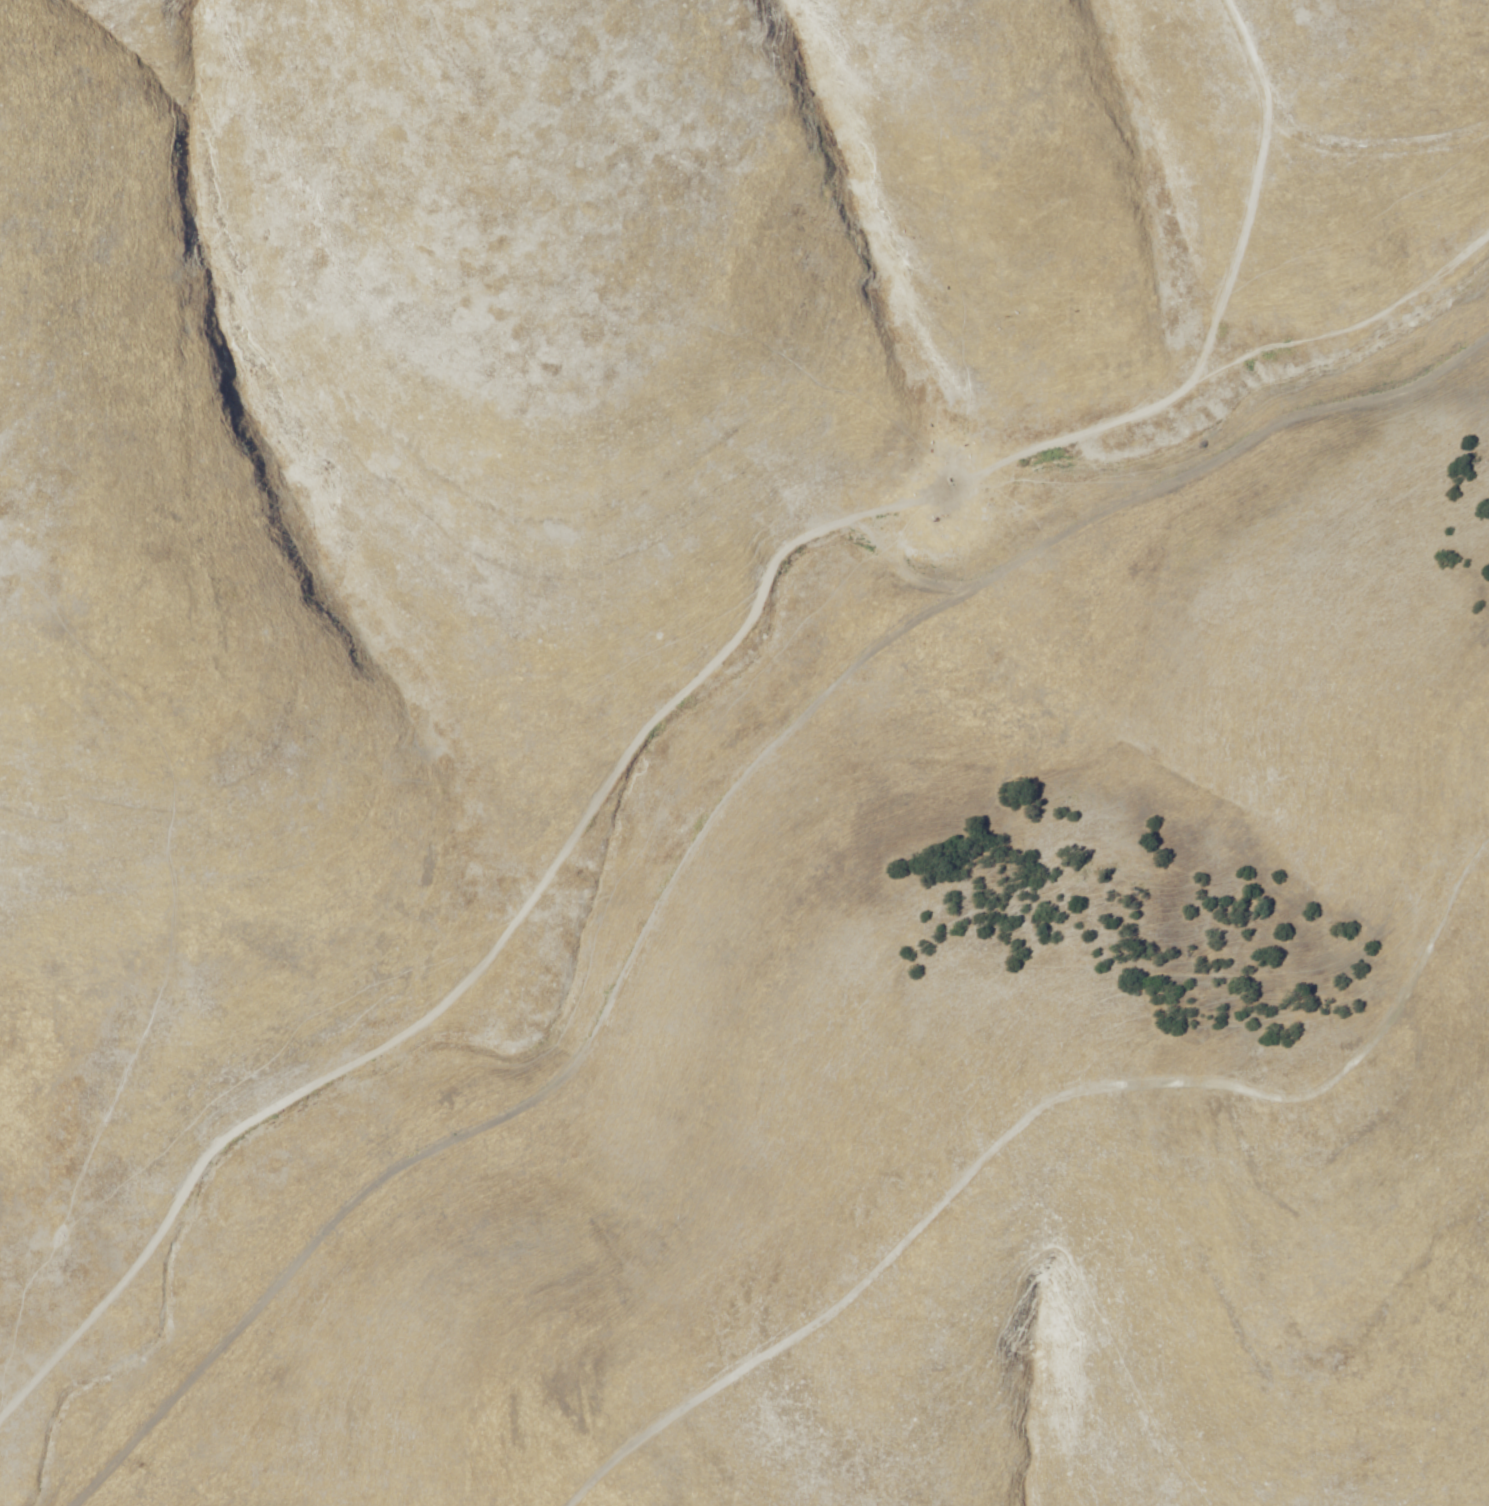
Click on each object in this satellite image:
road: (1323, 135)
road: (1137, 393)
road: (738, 848)

